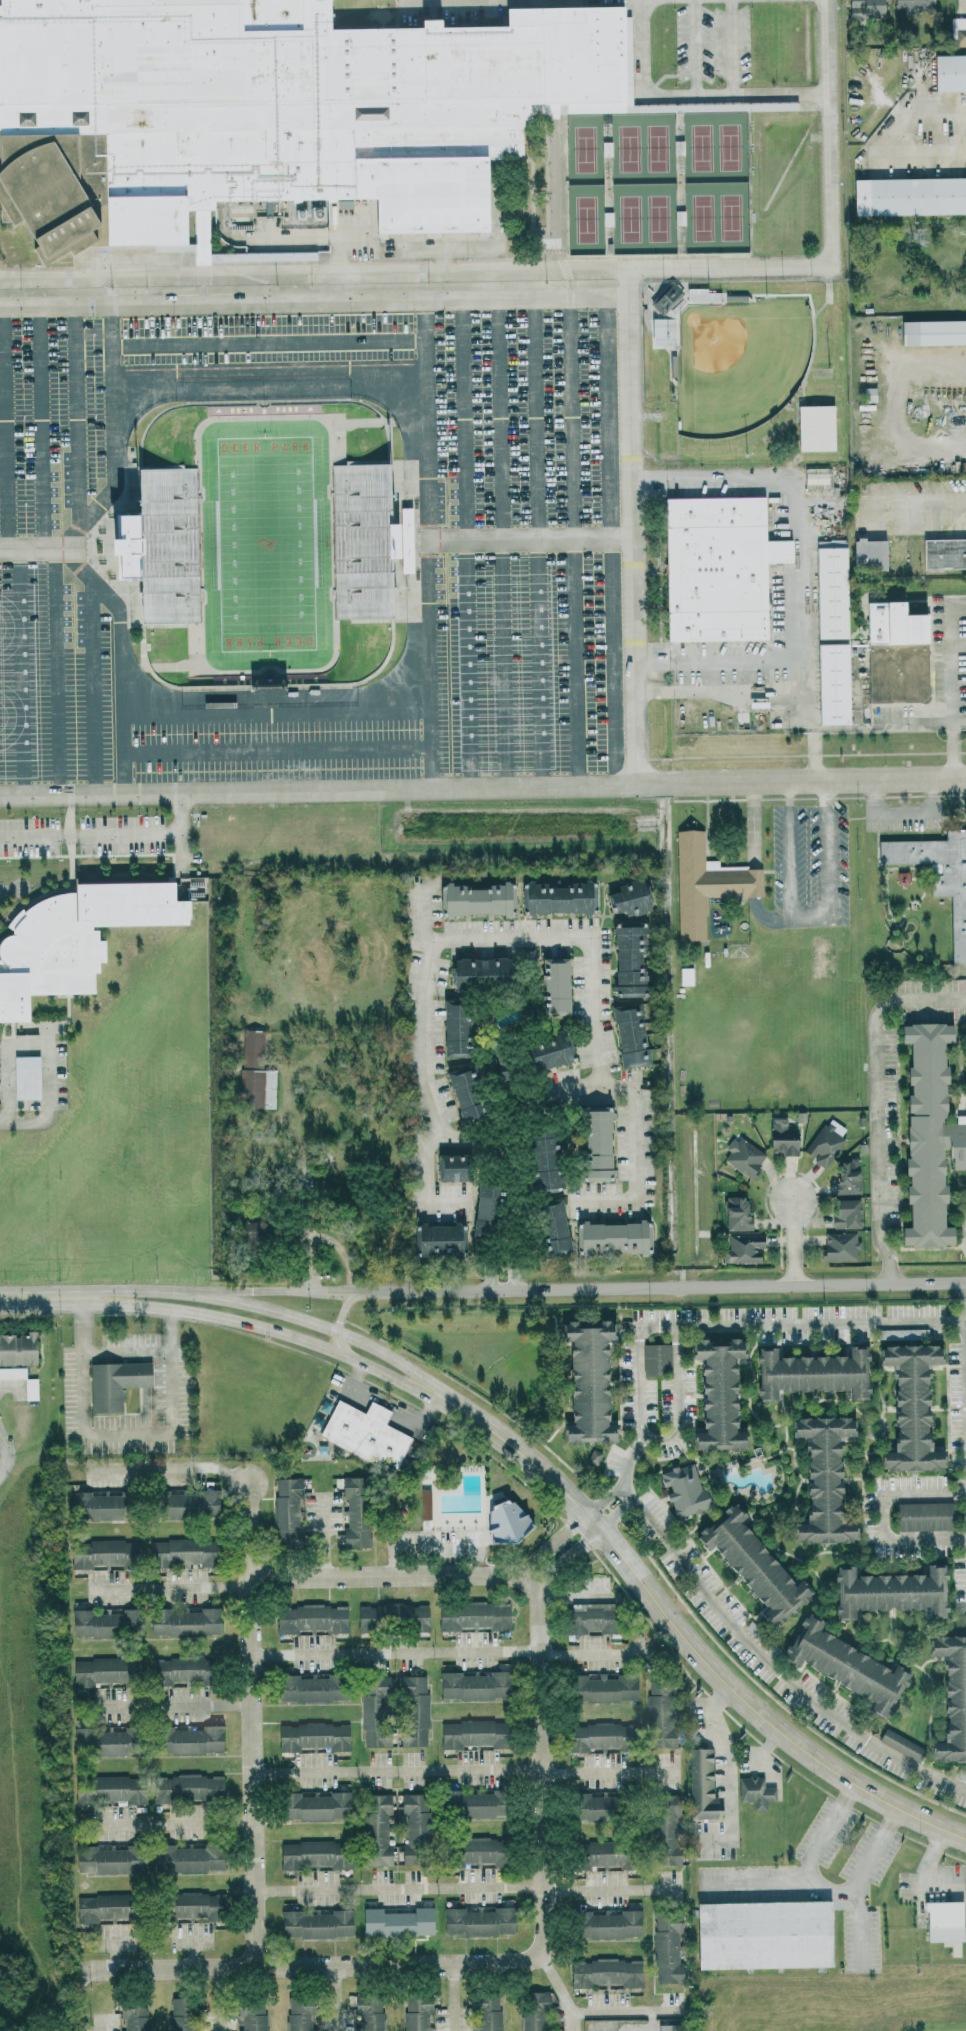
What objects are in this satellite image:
building: (913, 4)
building: (863, 7)
building: (959, 30)
road: (696, 47)
road: (732, 47)
building: (949, 72)
road: (668, 75)
road: (687, 96)
building: (271, 110)
road: (887, 139)
building: (605, 148)
building: (908, 196)
road: (554, 197)
road: (547, 268)
building: (701, 295)
building: (665, 298)
road: (314, 301)
building: (662, 331)
building: (932, 332)
road: (815, 333)
road: (269, 342)
park: (740, 363)
road: (270, 370)
stadium: (750, 370)
road: (113, 421)
road: (76, 427)
building: (814, 427)
road: (4, 428)
road: (43, 428)
road: (403, 466)
building: (814, 477)
road: (919, 503)
road: (632, 525)
road: (121, 531)
road: (530, 539)
building: (362, 540)
building: (402, 540)
road: (576, 540)
road: (612, 540)
road: (542, 541)
stadium: (266, 542)
road: (466, 542)
road: (503, 542)
park: (266, 543)
road: (429, 543)
building: (170, 544)
building: (132, 546)
road: (39, 550)
building: (944, 553)
building: (868, 554)
building: (717, 568)
road: (797, 574)
building: (830, 589)
road: (958, 644)
building: (895, 654)
road: (120, 665)
road: (18, 672)
road: (56, 672)
road: (950, 680)
building: (832, 684)
road: (93, 686)
road: (276, 714)
road: (959, 718)
road: (913, 719)
road: (277, 750)
road: (817, 779)
road: (334, 788)
road: (905, 810)
road: (753, 825)
road: (180, 833)
road: (90, 834)
road: (790, 850)
road: (825, 863)
building: (939, 876)
building: (705, 883)
building: (557, 896)
building: (473, 897)
building: (627, 897)
road: (757, 908)
road: (580, 937)
building: (75, 939)
building: (626, 959)
building: (477, 971)
building: (684, 975)
building: (552, 985)
road: (424, 1011)
road: (42, 1027)
building: (453, 1027)
building: (628, 1035)
building: (543, 1052)
road: (6, 1063)
building: (254, 1073)
building: (24, 1077)
building: (466, 1086)
road: (634, 1089)
road: (48, 1096)
road: (876, 1101)
building: (927, 1135)
building: (781, 1136)
road: (493, 1139)
building: (594, 1143)
building: (824, 1145)
building: (741, 1156)
building: (542, 1158)
building: (449, 1167)
building: (846, 1176)
building: (735, 1213)
building: (843, 1213)
building: (550, 1227)
building: (609, 1236)
building: (437, 1239)
road: (793, 1241)
building: (838, 1245)
building: (742, 1248)
road: (568, 1286)
road: (41, 1296)
road: (211, 1297)
road: (965, 1300)
road: (344, 1306)
road: (802, 1320)
road: (265, 1328)
building: (891, 1334)
road: (343, 1349)
road: (128, 1350)
building: (16, 1354)
road: (393, 1356)
building: (655, 1358)
building: (809, 1372)
building: (585, 1380)
building: (113, 1382)
road: (356, 1386)
building: (29, 1388)
building: (716, 1393)
road: (2, 1394)
building: (908, 1407)
road: (379, 1410)
road: (417, 1417)
building: (364, 1433)
road: (661, 1439)
road: (126, 1444)
road: (15, 1455)
building: (592, 1456)
road: (170, 1467)
building: (821, 1479)
building: (682, 1488)
road: (605, 1495)
building: (184, 1504)
building: (424, 1504)
building: (353, 1511)
building: (287, 1512)
road: (618, 1512)
road: (882, 1515)
building: (923, 1515)
building: (504, 1521)
road: (564, 1546)
building: (181, 1552)
building: (750, 1564)
road: (393, 1575)
road: (175, 1588)
building: (887, 1591)
road: (572, 1596)
building: (472, 1615)
building: (391, 1616)
building: (587, 1618)
building: (184, 1621)
building: (104, 1623)
road: (685, 1638)
road: (750, 1643)
road: (443, 1653)
building: (844, 1666)
building: (175, 1669)
building: (104, 1671)
building: (473, 1685)
building: (310, 1687)
building: (602, 1687)
building: (950, 1697)
road: (165, 1706)
building: (412, 1710)
building: (374, 1711)
road: (250, 1725)
building: (471, 1733)
building: (311, 1736)
building: (592, 1736)
building: (186, 1740)
building: (900, 1744)
road: (539, 1763)
road: (463, 1770)
road: (731, 1777)
building: (700, 1785)
building: (186, 1787)
building: (108, 1789)
building: (754, 1792)
building: (313, 1805)
building: (587, 1807)
building: (376, 1823)
road: (169, 1826)
building: (414, 1828)
building: (664, 1830)
building: (474, 1850)
road: (814, 1851)
building: (313, 1854)
building: (597, 1854)
building: (187, 1857)
building: (108, 1859)
road: (760, 1882)
road: (466, 1886)
road: (859, 1888)
building: (191, 1907)
building: (94, 1908)
building: (476, 1920)
building: (395, 1922)
building: (606, 1923)
building: (315, 1924)
building: (943, 1924)
building: (762, 1934)
building: (666, 1947)
road: (192, 1955)
road: (115, 1957)
road: (309, 1967)
building: (604, 1972)
road: (454, 1998)
road: (219, 1999)
road: (335, 1999)
road: (79, 2001)
building: (485, 2010)
building: (533, 2010)
road: (592, 2010)
building: (416, 2012)
building: (179, 2013)
building: (250, 2013)
building: (298, 2014)
building: (132, 2015)
road: (653, 2020)
road: (574, 2021)
building: (665, 2027)
building: (315, 2030)

